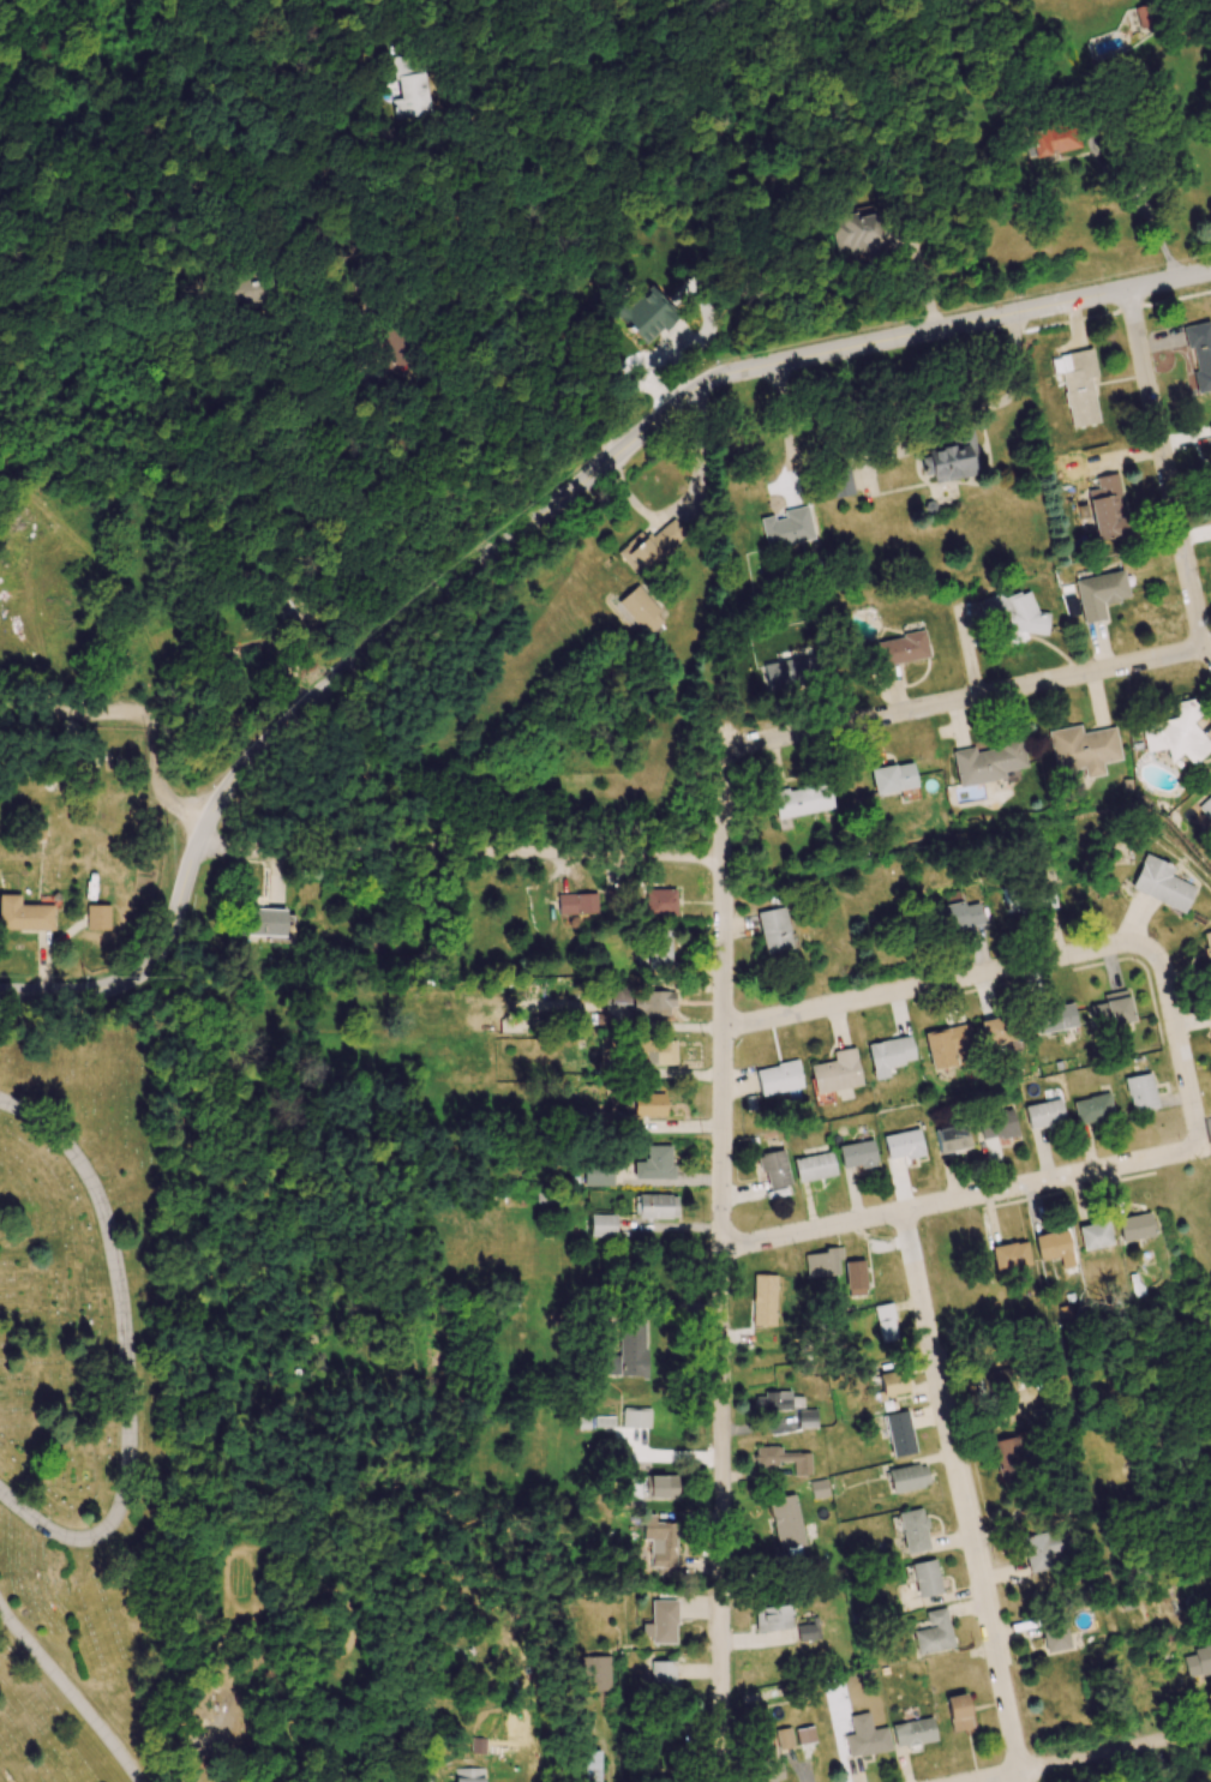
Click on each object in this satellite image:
building: (70, 2)
road: (22, 82)
building: (412, 89)
building: (1055, 140)
road: (1096, 156)
building: (858, 234)
road: (479, 256)
building: (251, 292)
building: (643, 314)
building: (1199, 354)
building: (1077, 385)
road: (359, 416)
road: (785, 431)
road: (645, 432)
building: (1209, 432)
building: (952, 458)
road: (1167, 473)
building: (840, 481)
road: (418, 490)
building: (1107, 508)
building: (786, 528)
building: (652, 546)
building: (1099, 594)
building: (640, 610)
building: (290, 613)
building: (1013, 613)
building: (901, 648)
building: (789, 672)
road: (965, 698)
road: (73, 713)
building: (1175, 734)
building: (1083, 749)
building: (987, 762)
building: (892, 778)
road: (163, 779)
building: (801, 799)
building: (1206, 808)
road: (458, 851)
building: (1161, 883)
building: (660, 902)
building: (577, 905)
building: (957, 913)
building: (24, 914)
building: (97, 917)
building: (264, 922)
building: (775, 931)
road: (168, 940)
building: (658, 949)
building: (1207, 949)
road: (936, 983)
road: (35, 991)
building: (619, 995)
building: (652, 1002)
building: (1110, 1010)
building: (1060, 1018)
building: (999, 1032)
road: (1179, 1045)
building: (948, 1046)
building: (654, 1051)
building: (888, 1055)
building: (835, 1072)
building: (778, 1078)
building: (1139, 1092)
building: (648, 1104)
building: (1092, 1109)
building: (1043, 1114)
building: (596, 1121)
building: (997, 1124)
building: (951, 1138)
building: (903, 1145)
building: (857, 1154)
building: (654, 1164)
building: (814, 1166)
building: (773, 1169)
building: (598, 1175)
road: (959, 1198)
building: (657, 1206)
building: (602, 1225)
building: (1134, 1226)
building: (1093, 1235)
building: (1051, 1244)
building: (1009, 1256)
building: (822, 1262)
road: (721, 1266)
building: (855, 1278)
building: (763, 1300)
building: (885, 1322)
building: (629, 1352)
road: (125, 1356)
building: (993, 1381)
building: (892, 1384)
park: (89, 1394)
building: (773, 1400)
building: (636, 1417)
building: (807, 1418)
building: (899, 1433)
building: (1007, 1456)
building: (783, 1459)
building: (907, 1477)
building: (655, 1487)
building: (819, 1488)
road: (961, 1496)
building: (785, 1522)
building: (912, 1530)
building: (661, 1544)
building: (1041, 1550)
building: (925, 1578)
building: (661, 1622)
building: (808, 1630)
building: (933, 1633)
building: (1054, 1637)
building: (1198, 1661)
building: (595, 1673)
building: (661, 1675)
road: (71, 1692)
building: (958, 1712)
building: (912, 1732)
building: (804, 1735)
building: (865, 1736)
building: (784, 1738)
building: (478, 1745)
road: (1090, 1756)
building: (592, 1765)
building: (768, 1765)
building: (468, 1775)
building: (426, 1780)

